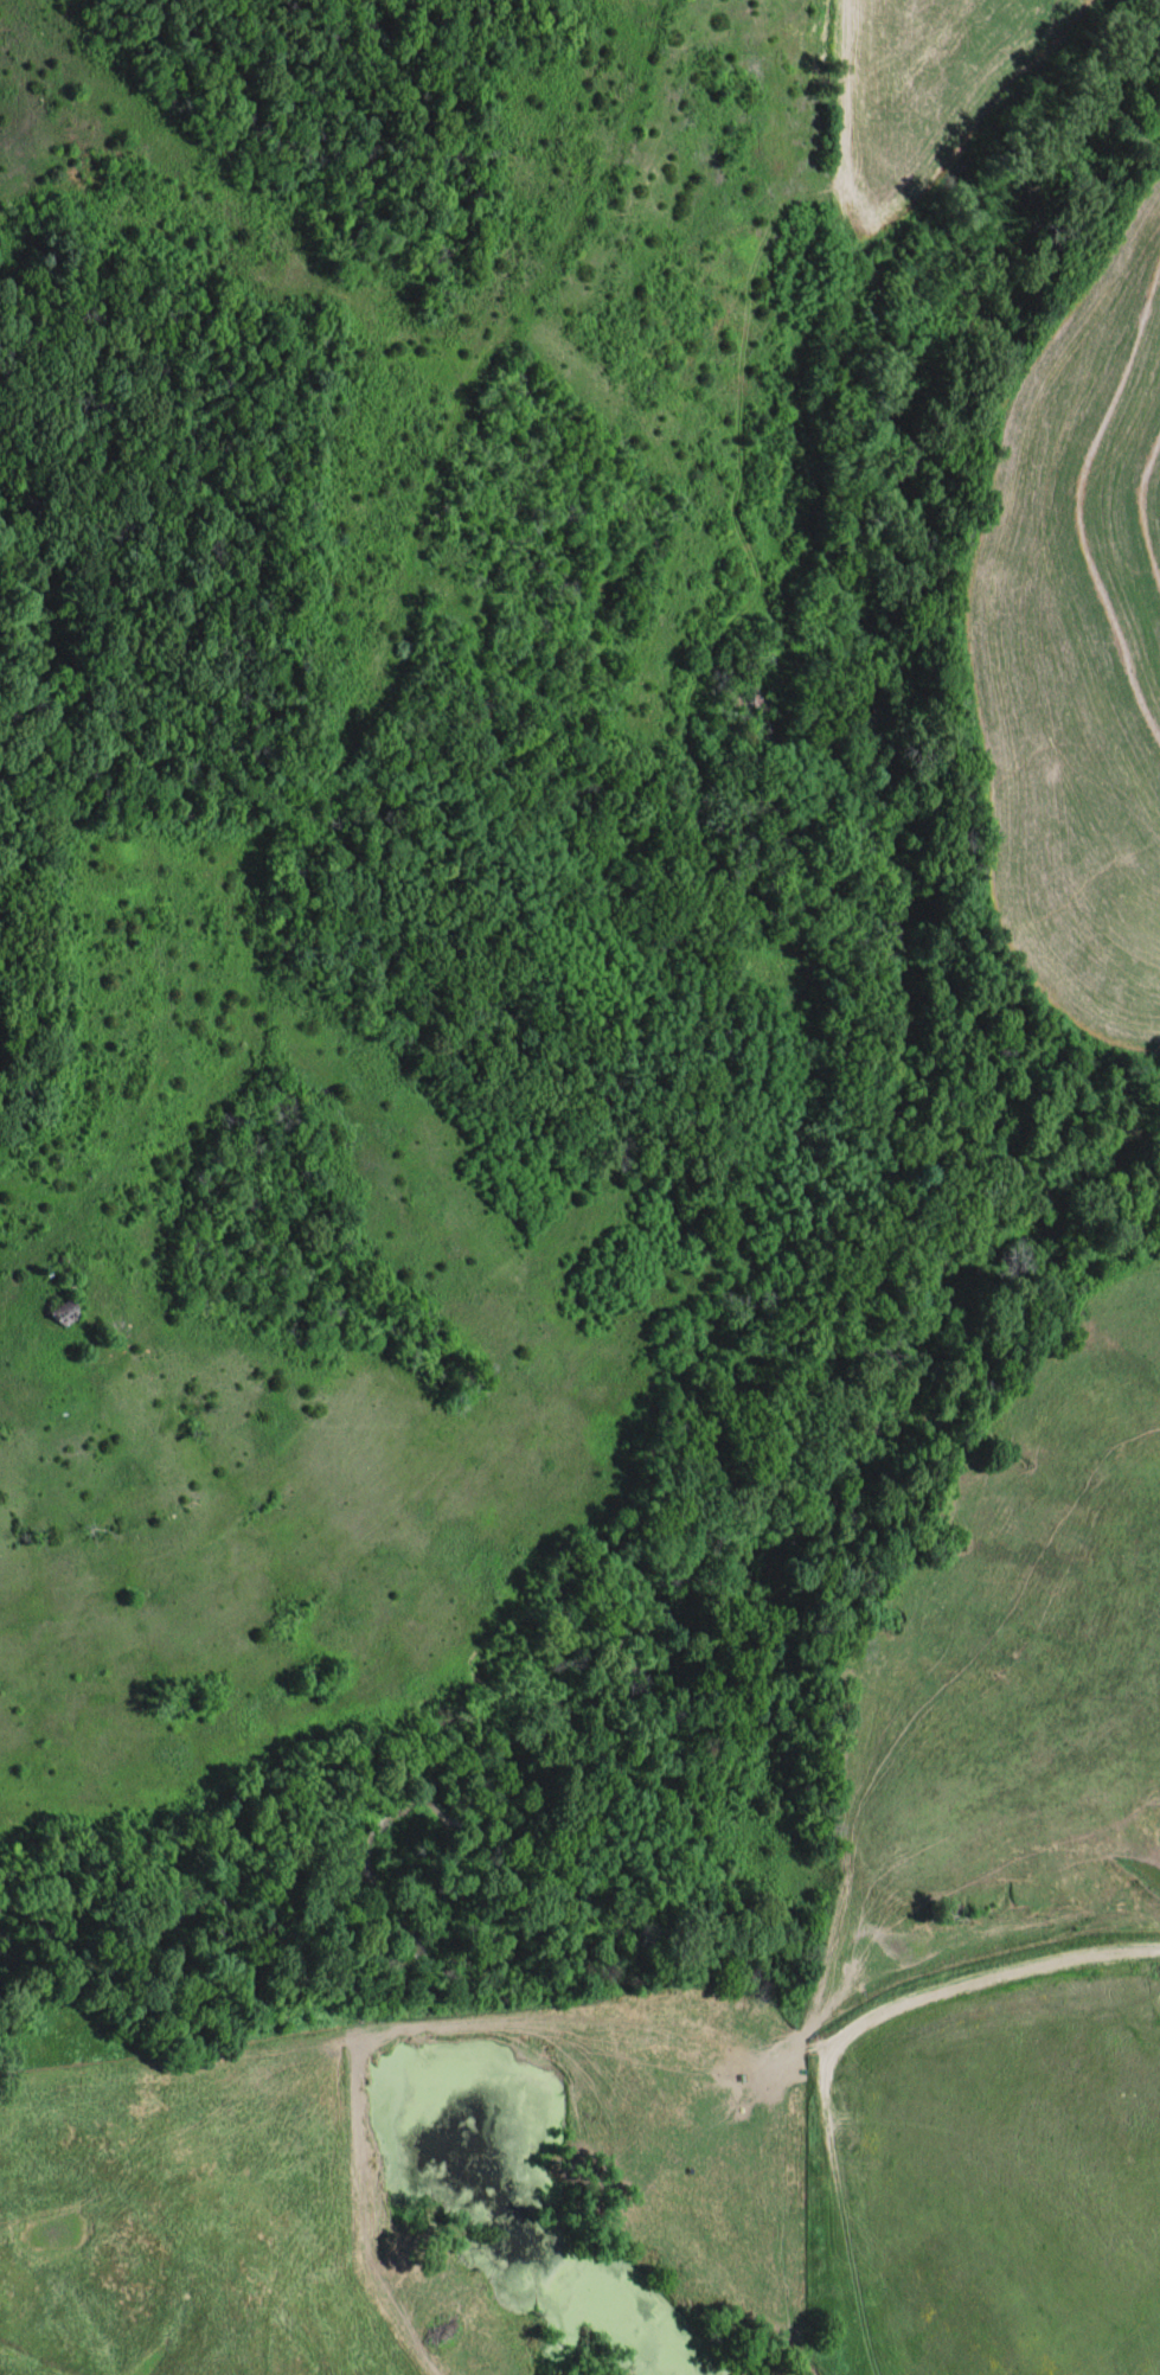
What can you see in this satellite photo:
building: (59, 1308)
road: (1069, 1947)

